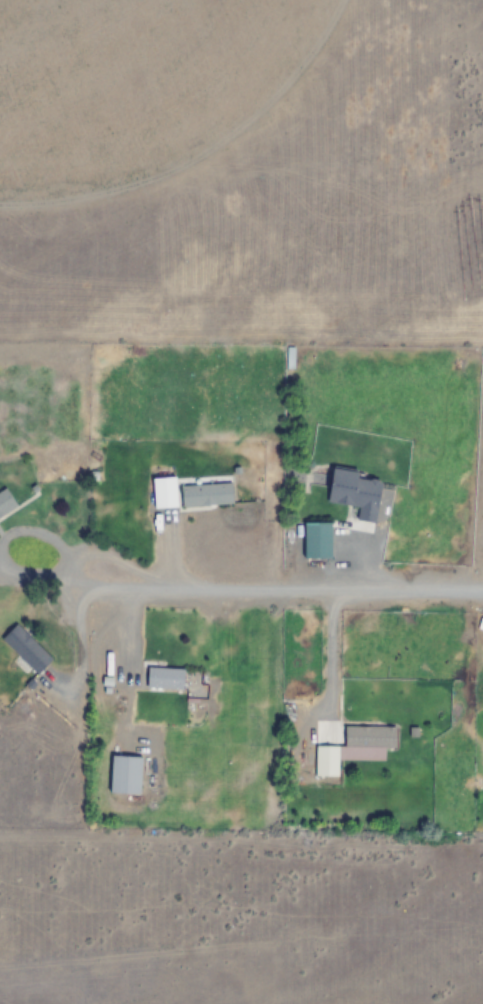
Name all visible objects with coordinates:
building: (288, 357)
building: (356, 493)
building: (205, 494)
building: (6, 503)
building: (317, 540)
building: (26, 650)
building: (164, 679)
building: (370, 737)
building: (325, 762)
building: (125, 776)

